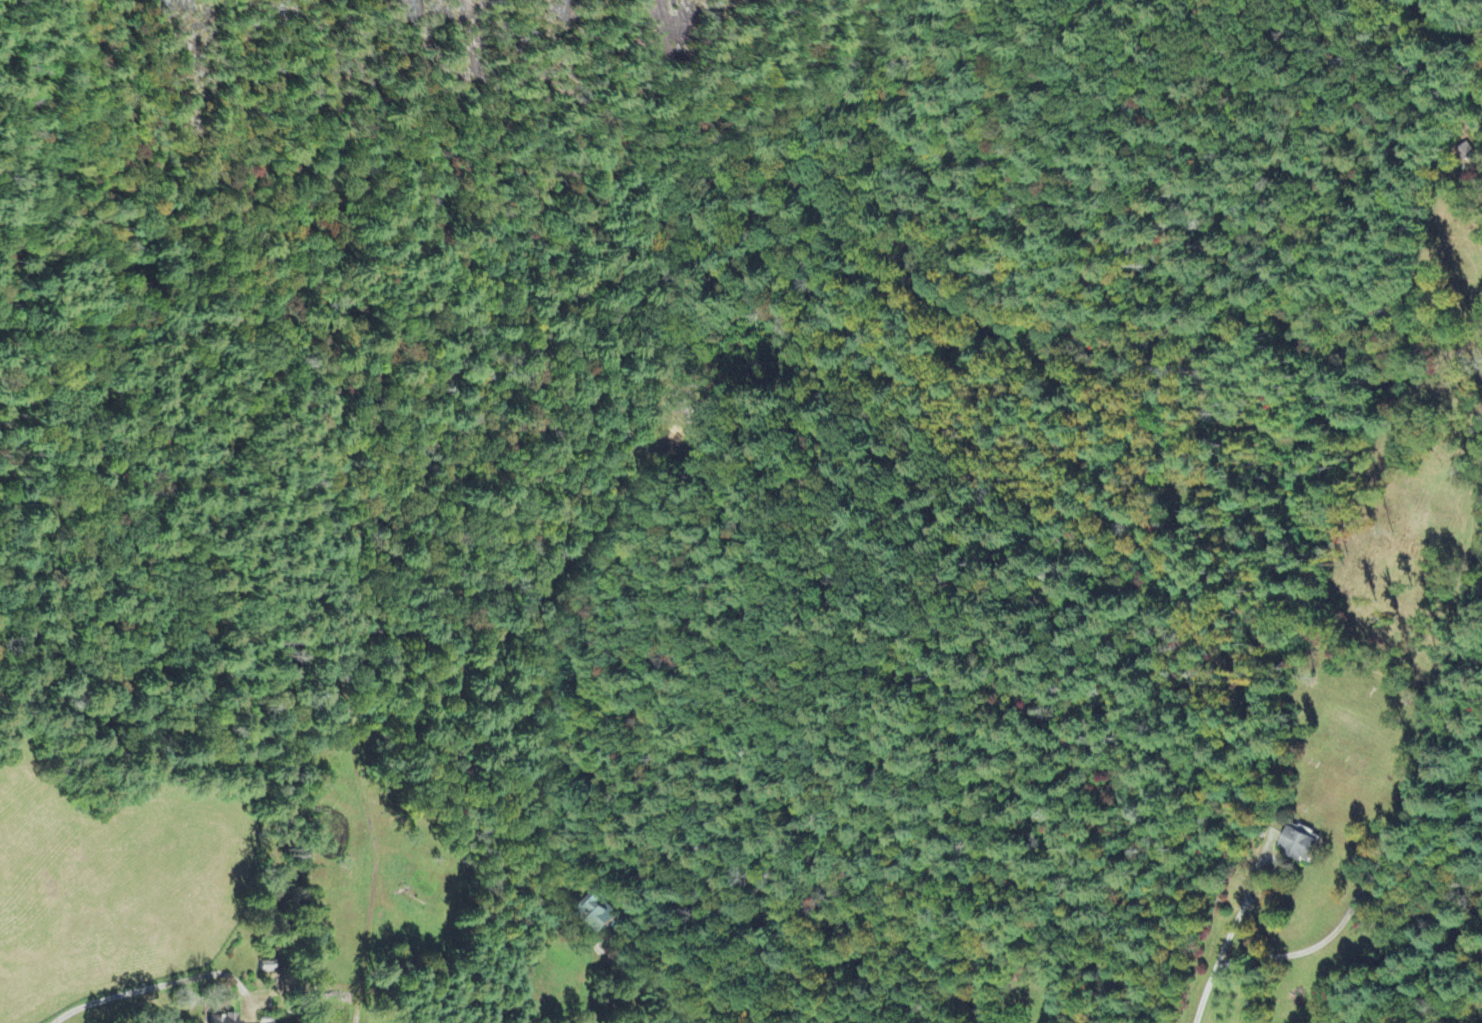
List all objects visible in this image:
building: (1466, 153)
road: (407, 637)
road: (1394, 818)
building: (1295, 846)
building: (597, 915)
road: (139, 995)
building: (223, 1019)

